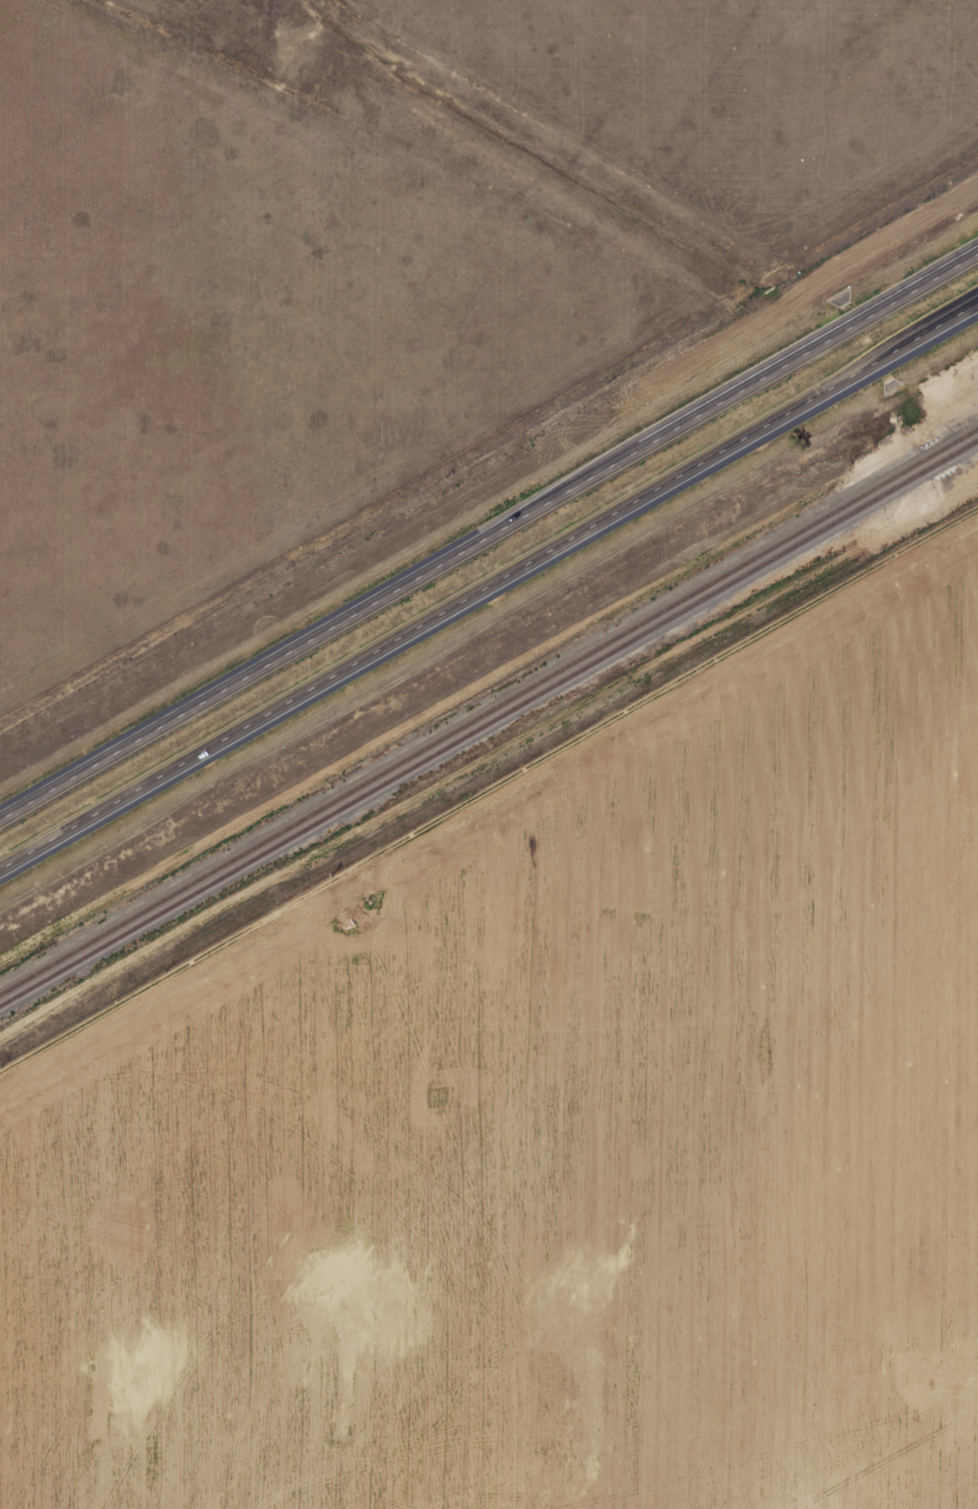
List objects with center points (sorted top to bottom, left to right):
road: (489, 536)
road: (488, 589)
railway: (488, 712)
railway: (489, 724)

